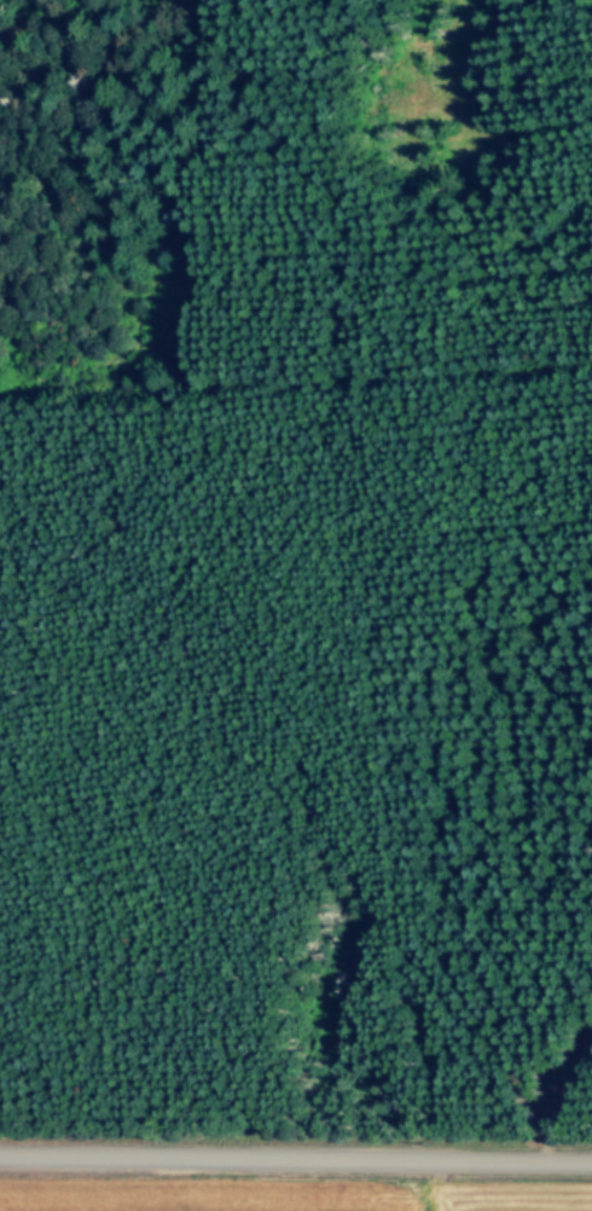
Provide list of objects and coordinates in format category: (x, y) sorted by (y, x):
road: (295, 1161)

